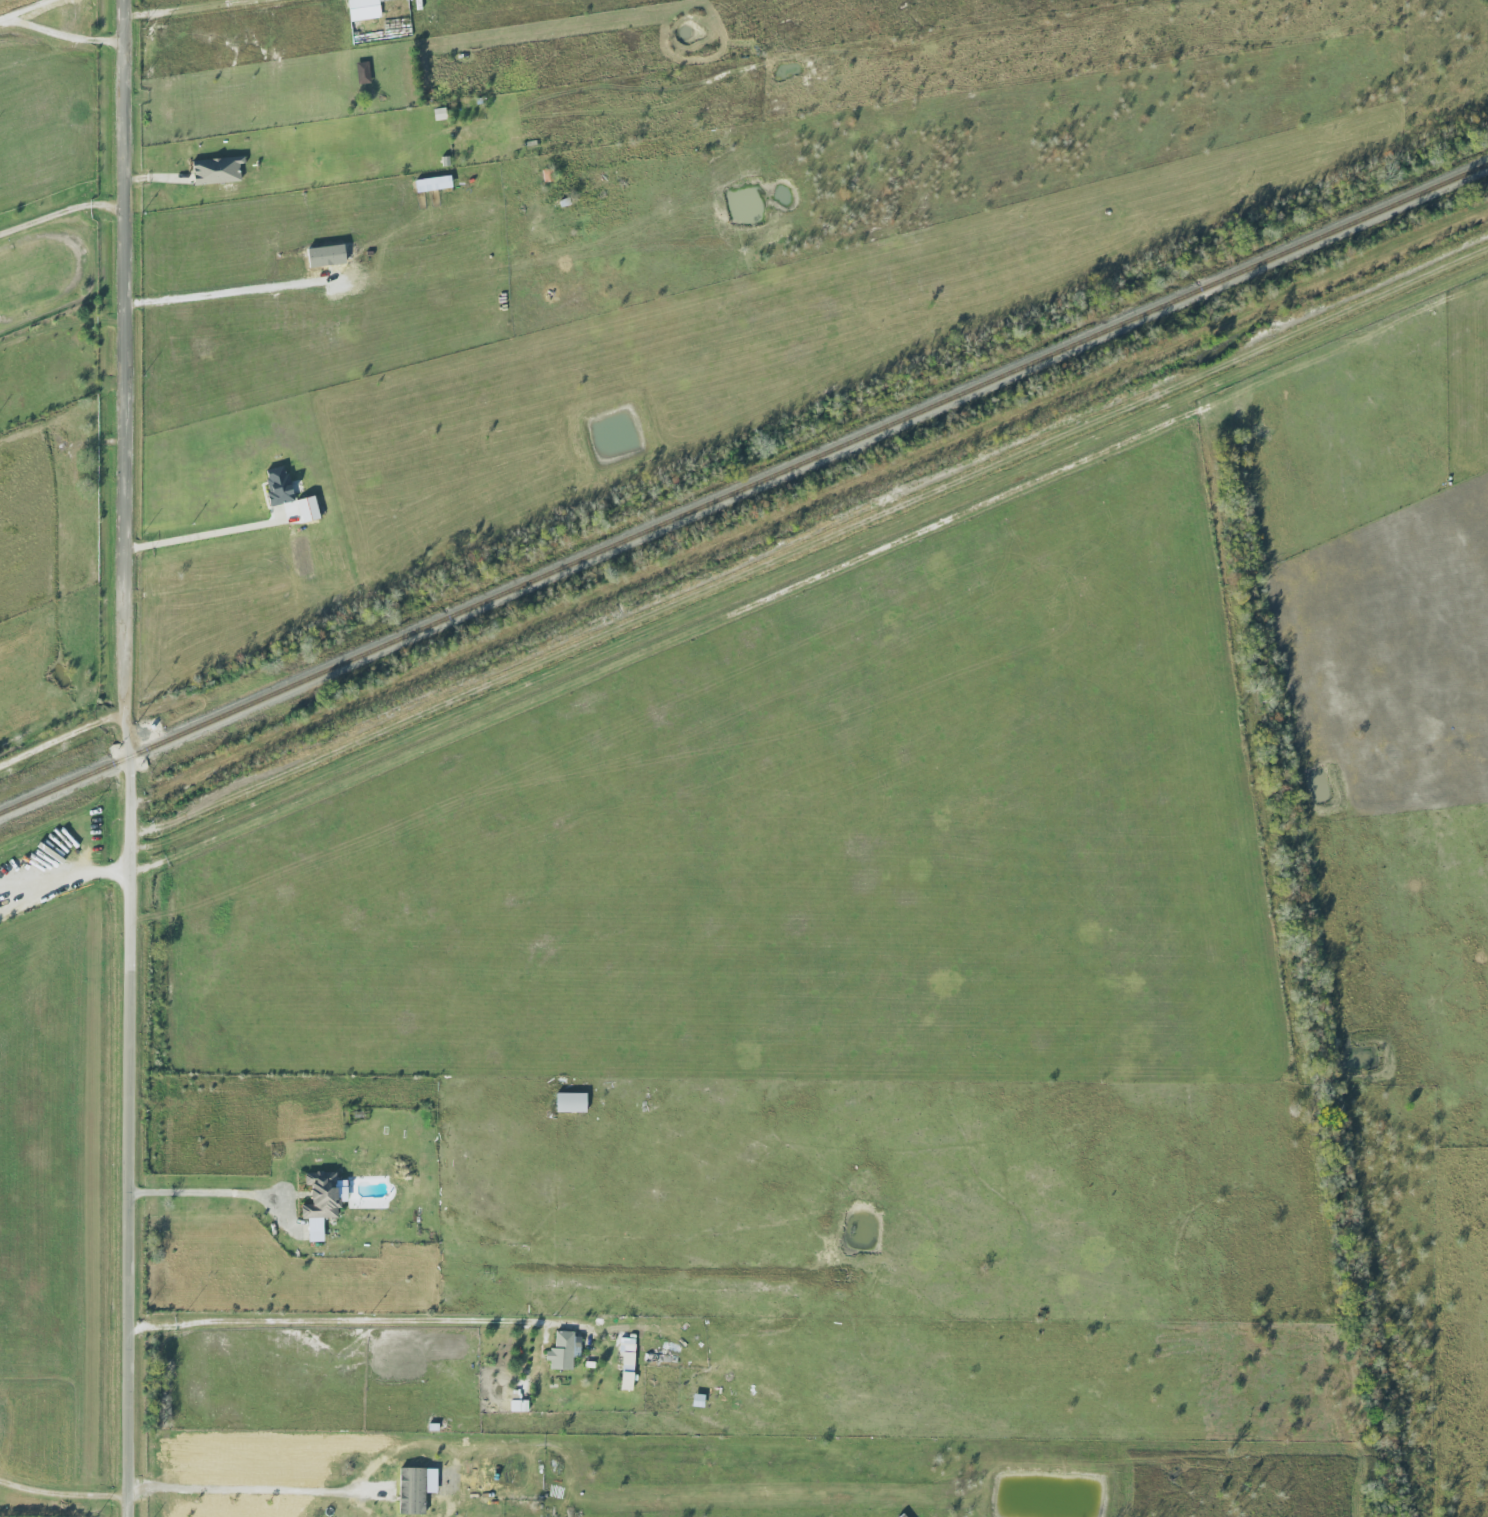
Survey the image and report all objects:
road: (181, 9)
road: (62, 35)
building: (362, 73)
building: (548, 176)
road: (62, 211)
road: (226, 292)
railway: (743, 485)
building: (287, 486)
road: (206, 538)
building: (300, 556)
road: (63, 733)
road: (129, 758)
road: (64, 871)
building: (570, 1103)
road: (197, 1190)
building: (320, 1197)
road: (342, 1318)
building: (563, 1341)
road: (254, 1486)
road: (60, 1492)

